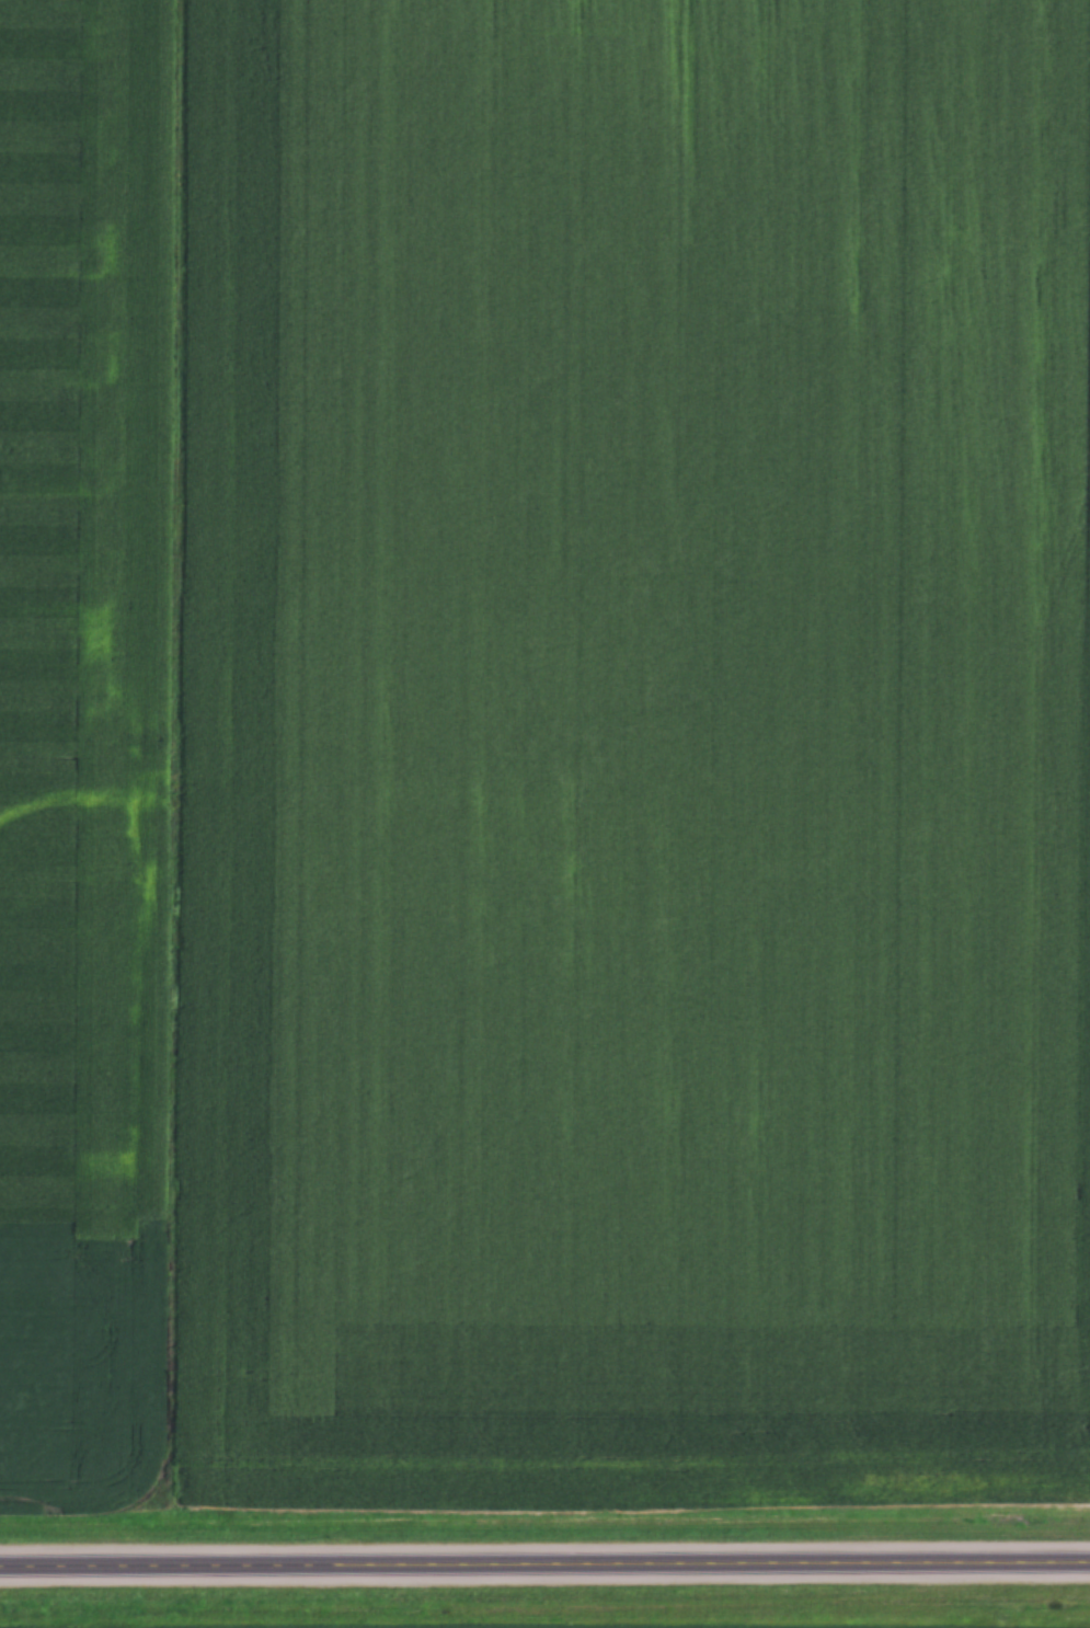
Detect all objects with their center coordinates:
road: (544, 1563)

